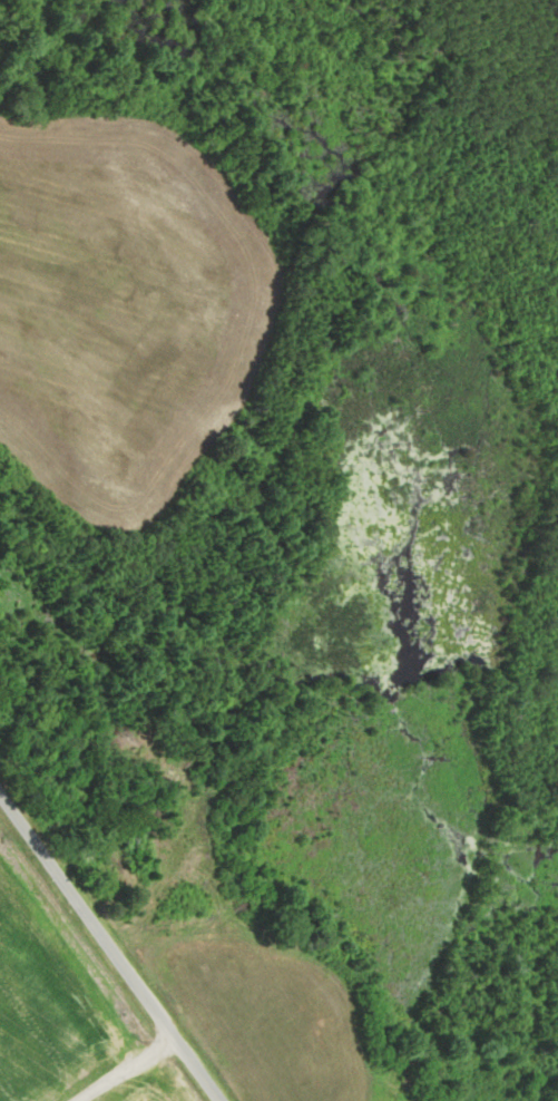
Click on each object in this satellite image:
road: (109, 947)

